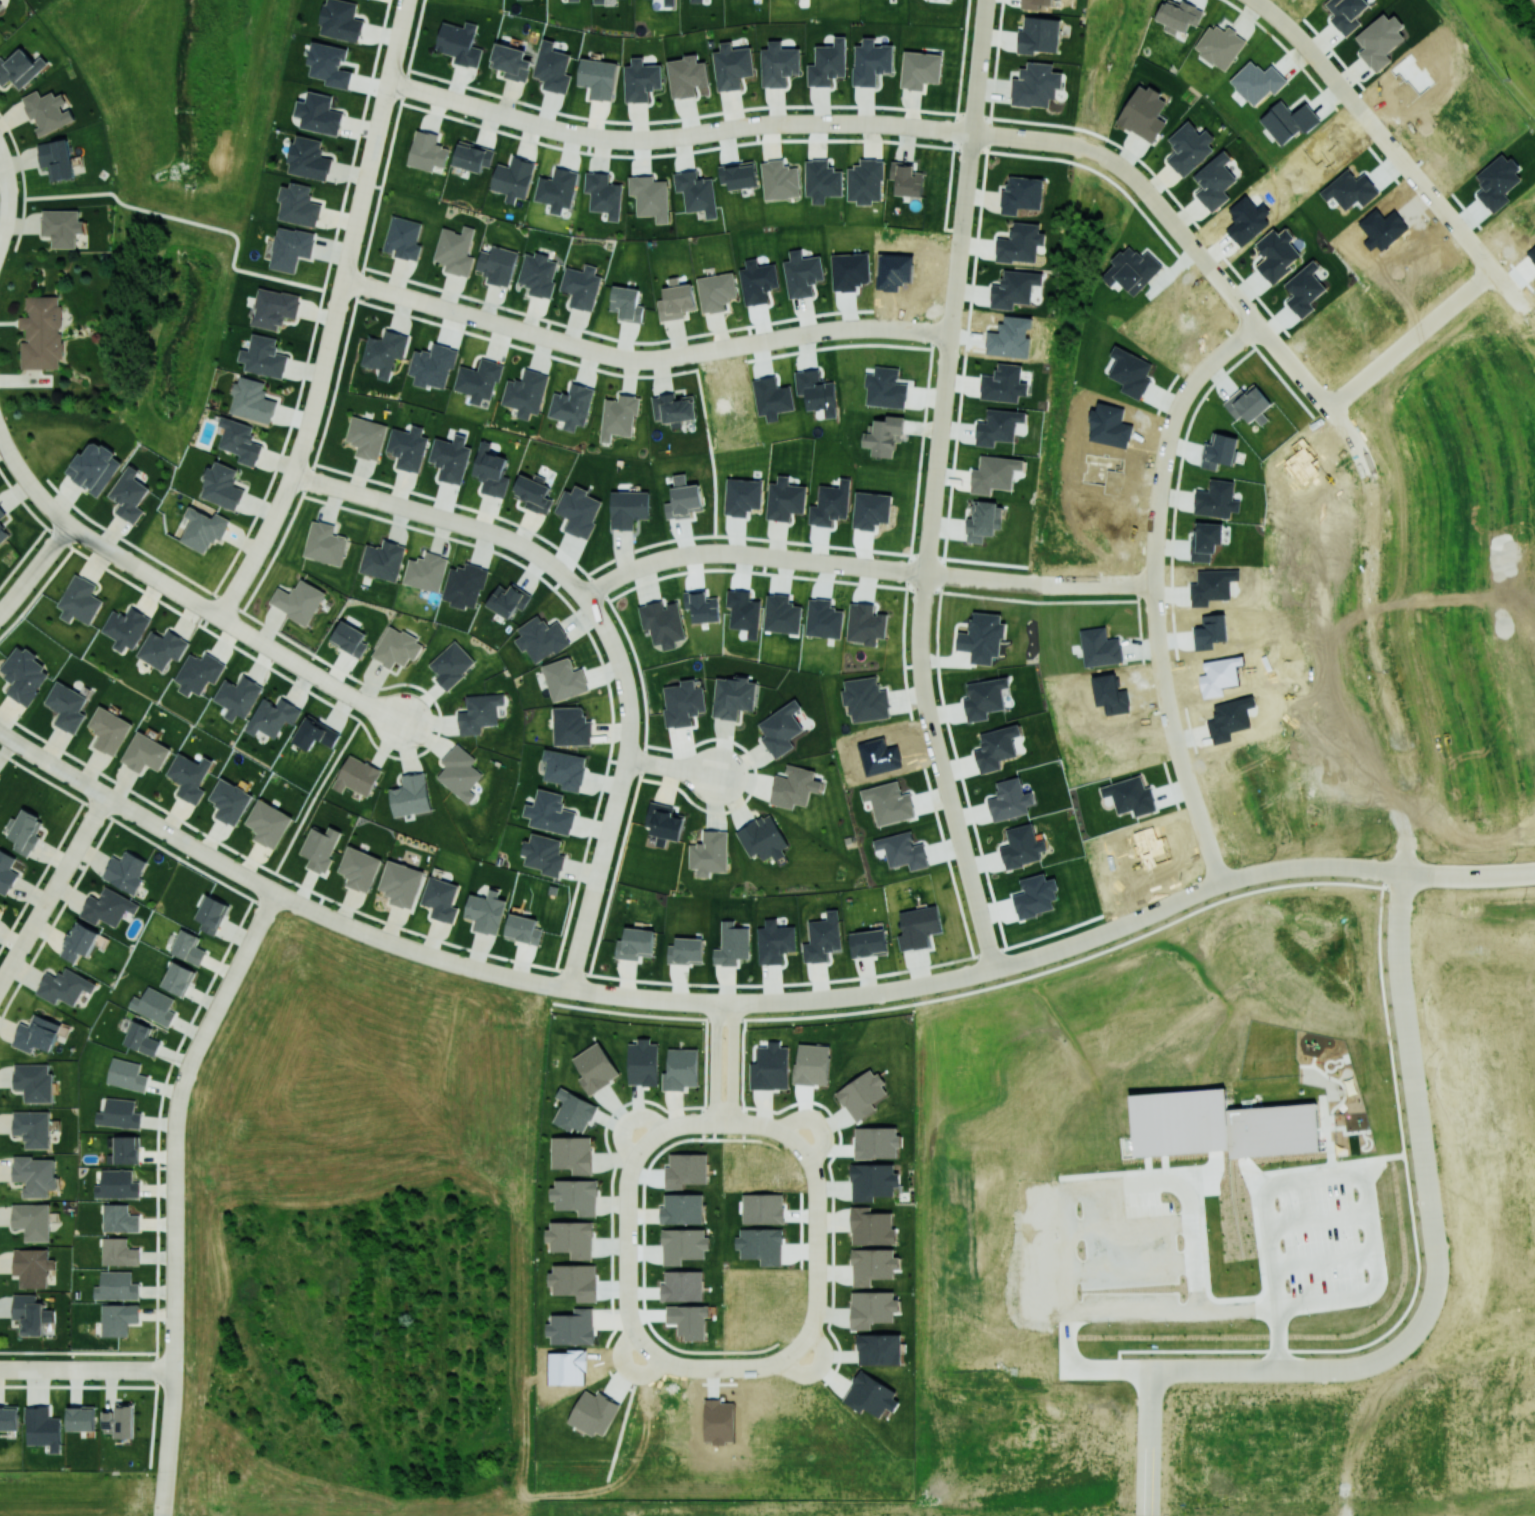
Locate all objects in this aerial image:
building: (573, 0)
building: (598, 1)
building: (696, 1)
building: (669, 2)
building: (1035, 3)
building: (0, 4)
building: (1346, 13)
building: (1179, 15)
building: (341, 20)
building: (1039, 35)
building: (1380, 40)
building: (460, 43)
building: (1219, 45)
park: (1491, 51)
building: (871, 61)
building: (511, 62)
building: (828, 63)
building: (329, 64)
building: (779, 64)
building: (732, 66)
building: (552, 67)
building: (20, 68)
building: (920, 69)
building: (598, 77)
building: (687, 77)
power tower: (1509, 79)
building: (641, 80)
building: (1036, 85)
road: (428, 93)
road: (472, 105)
road: (973, 107)
building: (48, 111)
building: (319, 113)
building: (1143, 113)
road: (872, 123)
road: (550, 126)
road: (1378, 131)
road: (649, 137)
road: (375, 144)
road: (1087, 148)
building: (1189, 148)
building: (427, 151)
building: (472, 156)
building: (56, 158)
building: (309, 158)
road: (1122, 167)
road: (5, 171)
building: (738, 174)
building: (513, 178)
building: (906, 179)
building: (780, 180)
building: (822, 180)
road: (22, 181)
building: (865, 181)
building: (1214, 181)
park: (172, 187)
building: (557, 189)
building: (696, 192)
building: (1021, 193)
building: (603, 194)
building: (650, 196)
road: (7, 199)
building: (299, 204)
road: (1163, 210)
road: (190, 220)
road: (4, 223)
road: (961, 224)
building: (62, 227)
park: (1085, 236)
building: (403, 238)
building: (1020, 243)
building: (291, 248)
building: (455, 250)
building: (497, 264)
building: (850, 270)
building: (802, 273)
building: (538, 274)
building: (581, 286)
building: (1014, 288)
road: (1515, 289)
road: (381, 290)
building: (716, 291)
road: (340, 294)
building: (676, 300)
road: (422, 302)
road: (319, 303)
building: (627, 303)
building: (274, 308)
road: (1534, 313)
road: (1257, 323)
road: (849, 327)
building: (42, 332)
road: (1414, 336)
road: (555, 339)
road: (746, 343)
road: (720, 348)
building: (384, 352)
road: (693, 352)
building: (264, 356)
building: (432, 366)
road: (608, 371)
building: (478, 380)
building: (1003, 383)
building: (817, 391)
building: (525, 393)
building: (772, 397)
building: (252, 400)
building: (572, 406)
building: (673, 409)
building: (619, 416)
building: (998, 426)
building: (366, 437)
building: (885, 437)
road: (1354, 437)
building: (240, 440)
building: (408, 447)
park: (707, 449)
road: (8, 451)
building: (451, 458)
road: (314, 460)
road: (295, 464)
building: (94, 467)
building: (491, 470)
building: (992, 474)
road: (24, 477)
road: (330, 485)
building: (222, 486)
building: (534, 493)
building: (129, 494)
road: (373, 498)
building: (785, 499)
building: (831, 504)
building: (629, 508)
building: (578, 511)
building: (1, 513)
building: (983, 520)
road: (73, 528)
building: (203, 529)
building: (3, 533)
building: (325, 543)
road: (926, 549)
road: (531, 551)
road: (714, 552)
road: (690, 554)
building: (383, 560)
road: (130, 562)
road: (872, 567)
road: (34, 568)
building: (426, 571)
road: (1031, 582)
road: (1044, 583)
road: (1106, 583)
building: (464, 585)
road: (177, 590)
road: (1161, 593)
building: (79, 600)
building: (508, 600)
building: (298, 601)
building: (782, 614)
building: (662, 622)
building: (865, 623)
building: (125, 628)
building: (349, 638)
building: (541, 638)
building: (396, 647)
building: (162, 648)
road: (291, 659)
building: (451, 664)
building: (198, 673)
building: (24, 675)
road: (1383, 675)
building: (564, 679)
building: (733, 696)
building: (237, 697)
building: (985, 697)
building: (865, 699)
building: (683, 702)
road: (368, 705)
building: (66, 706)
building: (479, 712)
road: (385, 715)
building: (272, 717)
building: (571, 726)
building: (781, 729)
building: (109, 730)
road: (628, 731)
building: (315, 733)
building: (997, 747)
building: (145, 753)
road: (419, 754)
road: (672, 766)
building: (565, 769)
building: (459, 772)
building: (357, 776)
building: (189, 777)
road: (89, 786)
building: (794, 787)
building: (410, 794)
road: (314, 795)
park: (313, 800)
building: (1010, 800)
building: (229, 801)
building: (889, 802)
building: (550, 812)
building: (664, 822)
building: (268, 823)
road: (133, 830)
building: (26, 832)
building: (763, 838)
road: (183, 841)
building: (1022, 846)
building: (320, 848)
building: (902, 850)
building: (709, 853)
building: (544, 854)
road: (223, 863)
road: (65, 866)
road: (1358, 867)
building: (359, 868)
building: (7, 871)
building: (125, 871)
road: (970, 872)
road: (1470, 876)
road: (1330, 882)
building: (401, 883)
road: (595, 883)
road: (267, 887)
road: (1208, 891)
building: (1035, 896)
building: (441, 899)
building: (108, 907)
building: (486, 911)
building: (211, 914)
building: (918, 927)
road: (984, 927)
building: (523, 929)
building: (823, 937)
road: (580, 939)
building: (79, 941)
building: (775, 941)
building: (868, 942)
building: (635, 943)
building: (732, 944)
building: (188, 947)
road: (410, 947)
road: (19, 949)
building: (686, 950)
road: (525, 963)
road: (1012, 963)
road: (6, 971)
building: (178, 978)
building: (64, 986)
road: (561, 986)
road: (833, 997)
road: (661, 999)
building: (154, 1005)
building: (36, 1034)
building: (141, 1038)
building: (643, 1062)
road: (732, 1063)
road: (715, 1064)
building: (812, 1065)
building: (770, 1067)
building: (595, 1068)
building: (681, 1069)
building: (127, 1074)
building: (34, 1081)
building: (862, 1094)
building: (574, 1111)
building: (119, 1113)
road: (1420, 1120)
road: (627, 1121)
road: (817, 1125)
building: (1219, 1125)
building: (32, 1128)
building: (877, 1142)
building: (126, 1149)
building: (573, 1154)
road: (174, 1169)
building: (686, 1170)
building: (35, 1175)
road: (1352, 1177)
building: (873, 1181)
building: (117, 1184)
road: (1123, 1185)
building: (576, 1196)
building: (682, 1208)
building: (763, 1208)
building: (119, 1218)
building: (32, 1220)
building: (872, 1227)
building: (571, 1238)
building: (683, 1245)
building: (761, 1245)
road: (816, 1245)
road: (627, 1246)
building: (118, 1252)
building: (873, 1265)
building: (32, 1267)
building: (574, 1280)
building: (682, 1285)
building: (116, 1286)
building: (873, 1308)
road: (1177, 1311)
building: (31, 1313)
building: (118, 1319)
building: (572, 1327)
building: (879, 1349)
road: (622, 1352)
road: (32, 1368)
road: (68, 1368)
road: (817, 1368)
road: (1108, 1368)
road: (122, 1369)
road: (653, 1370)
road: (1274, 1371)
road: (637, 1373)
building: (871, 1395)
building: (594, 1412)
building: (9, 1417)
building: (81, 1418)
building: (120, 1420)
road: (622, 1426)
building: (43, 1428)
road: (1148, 1443)
park: (721, 1484)
park: (81, 1492)
road: (163, 1492)

